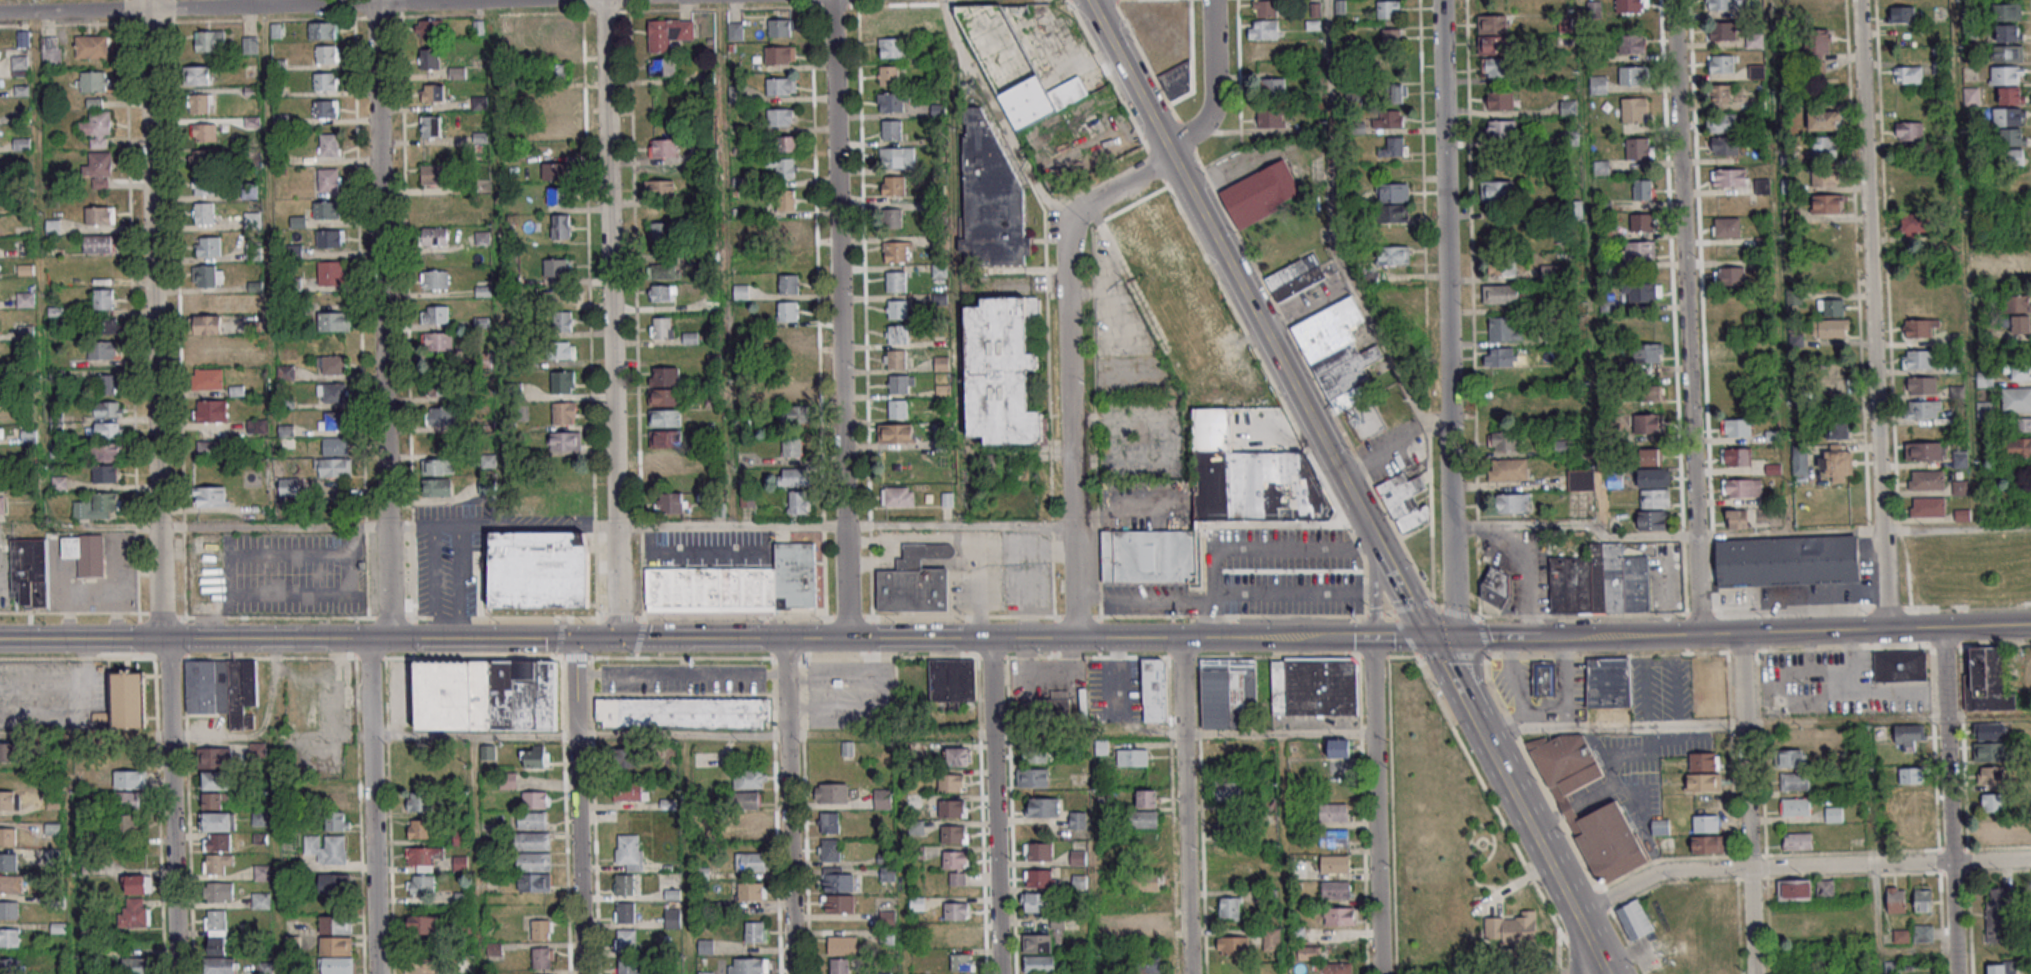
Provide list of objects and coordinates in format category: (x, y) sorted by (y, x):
building: (1782, 2)
building: (1721, 4)
building: (1816, 4)
road: (261, 6)
building: (1632, 6)
building: (1264, 8)
building: (1388, 9)
building: (2006, 11)
building: (1902, 14)
building: (893, 20)
building: (478, 27)
building: (779, 27)
building: (428, 28)
building: (1263, 29)
building: (322, 30)
building: (1722, 30)
building: (2007, 32)
building: (668, 33)
building: (1493, 34)
building: (1391, 37)
building: (210, 40)
building: (1754, 41)
building: (1632, 43)
building: (250, 44)
building: (91, 46)
building: (1816, 46)
building: (556, 47)
building: (892, 47)
building: (1263, 50)
building: (52, 52)
building: (327, 53)
building: (2008, 53)
building: (779, 54)
building: (428, 59)
building: (1721, 64)
building: (19, 65)
building: (1391, 66)
building: (660, 67)
building: (1496, 67)
building: (457, 72)
building: (557, 72)
building: (1757, 72)
building: (1907, 74)
building: (197, 75)
building: (888, 75)
building: (1631, 75)
building: (2007, 75)
building: (92, 81)
building: (325, 81)
building: (1176, 81)
building: (1598, 84)
road: (1213, 85)
building: (781, 86)
building: (1271, 87)
building: (1068, 92)
building: (433, 93)
building: (1396, 93)
building: (1721, 93)
building: (2011, 95)
building: (1971, 96)
building: (554, 100)
building: (1500, 100)
building: (891, 102)
building: (201, 103)
building: (1568, 107)
building: (325, 108)
building: (1634, 109)
building: (780, 117)
building: (2008, 117)
building: (1270, 118)
building: (1387, 119)
building: (250, 121)
building: (1824, 121)
building: (1723, 123)
building: (554, 125)
road: (1003, 125)
building: (431, 126)
building: (97, 128)
building: (891, 129)
building: (1501, 129)
building: (204, 131)
building: (1909, 132)
building: (2013, 137)
building: (786, 143)
building: (329, 145)
building: (1725, 145)
building: (1824, 146)
building: (663, 147)
building: (1394, 147)
building: (1638, 149)
building: (204, 157)
building: (897, 157)
building: (2013, 157)
building: (782, 167)
building: (99, 169)
building: (555, 170)
building: (434, 174)
building: (1730, 177)
building: (1826, 178)
building: (329, 179)
road: (1124, 181)
building: (204, 184)
building: (893, 185)
building: (1763, 186)
building: (659, 188)
building: (1642, 189)
building: (1497, 190)
building: (1260, 194)
building: (557, 196)
building: (991, 199)
building: (785, 200)
building: (1915, 202)
building: (1393, 203)
building: (1827, 203)
building: (431, 206)
building: (327, 210)
building: (204, 213)
building: (100, 215)
building: (892, 218)
building: (1641, 222)
building: (1917, 223)
building: (561, 226)
building: (1726, 227)
building: (785, 230)
building: (662, 231)
road: (1331, 234)
building: (1826, 235)
building: (435, 236)
building: (330, 238)
building: (99, 243)
building: (1393, 245)
building: (208, 246)
building: (1162, 247)
building: (1639, 250)
building: (896, 251)
road: (952, 261)
road: (610, 262)
road: (838, 262)
building: (2016, 263)
building: (1502, 265)
building: (557, 267)
building: (661, 269)
building: (1978, 269)
building: (102, 270)
building: (330, 272)
building: (207, 275)
building: (1729, 276)
road: (1235, 277)
building: (54, 278)
building: (1292, 278)
building: (434, 279)
building: (896, 281)
building: (788, 283)
building: (1644, 291)
building: (662, 292)
building: (1500, 294)
building: (104, 298)
building: (25, 299)
building: (211, 303)
road: (1227, 305)
building: (1831, 307)
road: (406, 308)
road: (817, 308)
road: (178, 309)
building: (896, 310)
building: (1730, 310)
building: (787, 311)
building: (2018, 312)
building: (434, 314)
road: (1871, 314)
road: (1686, 316)
road: (1448, 317)
road: (382, 319)
building: (334, 321)
building: (563, 321)
building: (207, 324)
building: (107, 325)
building: (661, 327)
building: (1919, 327)
building: (1830, 328)
building: (1504, 329)
building: (896, 334)
building: (789, 337)
building: (438, 341)
building: (205, 344)
building: (102, 350)
building: (560, 350)
building: (1336, 351)
building: (1726, 351)
building: (1648, 353)
building: (1499, 357)
building: (895, 359)
building: (1917, 359)
building: (331, 365)
building: (1001, 372)
building: (2019, 372)
road: (132, 375)
building: (663, 376)
building: (207, 378)
building: (563, 382)
building: (1832, 382)
building: (901, 383)
building: (106, 384)
building: (439, 385)
building: (1921, 385)
building: (792, 390)
building: (332, 392)
building: (1652, 392)
building: (665, 397)
building: (1499, 397)
building: (2016, 399)
building: (108, 409)
building: (897, 409)
building: (1923, 409)
building: (211, 410)
building: (564, 413)
building: (794, 414)
building: (439, 415)
building: (664, 418)
building: (332, 421)
road: (1070, 421)
building: (1646, 423)
building: (2021, 424)
building: (257, 426)
building: (1736, 427)
building: (109, 429)
building: (1839, 429)
building: (2, 432)
building: (896, 433)
building: (287, 436)
building: (665, 438)
building: (1505, 440)
building: (565, 441)
building: (335, 446)
building: (2016, 446)
building: (792, 447)
building: (1562, 447)
building: (211, 449)
building: (1928, 451)
building: (107, 452)
building: (1649, 456)
building: (1735, 457)
building: (1959, 459)
building: (665, 460)
building: (1800, 463)
building: (1836, 464)
building: (439, 466)
building: (334, 467)
building: (1507, 470)
building: (104, 475)
building: (794, 476)
building: (1653, 477)
building: (1614, 479)
building: (1581, 480)
building: (1925, 480)
road: (157, 487)
building: (289, 487)
building: (437, 487)
building: (1741, 487)
building: (210, 496)
building: (897, 496)
building: (1655, 498)
building: (1404, 501)
building: (670, 502)
building: (799, 502)
building: (1513, 503)
building: (1217, 505)
building: (3, 506)
building: (97, 507)
building: (1927, 507)
building: (1736, 518)
building: (1652, 520)
road: (844, 524)
road: (273, 525)
road: (1739, 535)
road: (1253, 546)
parking lot: (708, 547)
building: (86, 553)
building: (1787, 561)
building: (538, 570)
building: (30, 571)
parking lot: (276, 573)
road: (846, 581)
building: (915, 581)
building: (1600, 581)
road: (617, 582)
building: (737, 585)
building: (1496, 587)
road: (1405, 594)
road: (1379, 596)
road: (1227, 597)
road: (1410, 606)
road: (1376, 613)
road: (555, 617)
road: (1795, 631)
road: (1507, 634)
traffic signals: (1426, 635)
road: (1440, 635)
road: (1399, 636)
road: (1482, 636)
road: (1351, 637)
traffic signals: (573, 639)
traffic signals: (619, 639)
road: (665, 639)
road: (1759, 652)
road: (1452, 656)
road: (708, 658)
road: (86, 660)
road: (1442, 664)
building: (1899, 665)
road: (803, 675)
building: (1543, 679)
building: (1987, 680)
road: (43, 681)
building: (1608, 681)
building: (951, 682)
building: (1314, 686)
building: (223, 689)
building: (1154, 690)
building: (1228, 693)
building: (485, 695)
building: (127, 698)
road: (86, 699)
road: (878, 706)
building: (1053, 706)
building: (683, 713)
road: (43, 719)
road: (1755, 723)
building: (1990, 730)
road: (185, 735)
road: (1481, 735)
road: (873, 736)
building: (1906, 737)
building: (1340, 747)
building: (1989, 751)
building: (8, 752)
building: (1035, 754)
building: (535, 756)
building: (957, 756)
building: (215, 757)
building: (1131, 757)
building: (626, 758)
building: (1792, 758)
building: (1703, 761)
building: (1910, 775)
building: (1991, 775)
building: (1032, 777)
building: (130, 779)
building: (749, 779)
building: (215, 780)
building: (510, 780)
building: (1794, 781)
building: (951, 782)
building: (1702, 782)
building: (1227, 790)
building: (628, 791)
building: (831, 792)
building: (1910, 795)
building: (1147, 798)
building: (335, 799)
building: (535, 799)
building: (882, 799)
building: (9, 800)
building: (128, 800)
building: (215, 800)
building: (745, 800)
road: (1948, 801)
building: (419, 802)
building: (1993, 802)
road: (1746, 803)
road: (994, 805)
road: (1185, 805)
road: (1375, 805)
road: (373, 806)
road: (577, 806)
road: (788, 806)
building: (1796, 806)
building: (1042, 807)
building: (952, 808)
building: (1610, 809)
building: (1333, 812)
building: (1833, 814)
road: (1560, 816)
building: (1143, 819)
building: (337, 820)
building: (532, 820)
building: (752, 820)
building: (1077, 820)
building: (219, 821)
building: (829, 822)
building: (1706, 823)
building: (128, 825)
building: (1660, 827)
building: (419, 828)
building: (1994, 830)
building: (952, 834)
building: (1232, 835)
building: (7, 836)
building: (1912, 837)
building: (1334, 838)
building: (532, 840)
building: (217, 841)
building: (1797, 841)
building: (1707, 844)
building: (326, 848)
building: (830, 850)
building: (629, 851)
building: (1037, 851)
road: (475, 855)
road: (686, 855)
building: (423, 857)
building: (1077, 857)
building: (8, 862)
building: (533, 862)
building: (752, 862)
building: (216, 863)
building: (460, 863)
building: (1335, 864)
building: (956, 866)
road: (1799, 867)
building: (1301, 870)
building: (260, 872)
building: (887, 874)
road: (1557, 874)
building: (1039, 878)
building: (838, 879)
building: (1078, 881)
building: (1146, 881)
building: (334, 882)
building: (533, 882)
building: (13, 883)
building: (136, 884)
building: (420, 884)
building: (624, 884)
building: (1825, 888)
building: (1335, 889)
building: (1794, 889)
building: (220, 891)
building: (750, 891)
building: (1896, 899)
building: (1923, 899)
building: (261, 900)
building: (1036, 902)
building: (1148, 902)
building: (839, 904)
building: (1229, 908)
building: (9, 909)
building: (956, 910)
building: (624, 912)
building: (134, 913)
building: (1998, 914)
building: (1340, 916)
building: (672, 918)
building: (887, 918)
building: (1634, 920)
building: (1057, 922)
building: (1150, 922)
building: (335, 924)
building: (423, 924)
building: (1510, 928)
building: (541, 929)
building: (215, 932)
building: (754, 932)
building: (1922, 933)
building: (1804, 934)
building: (960, 936)
building: (10, 937)
building: (625, 938)
building: (1271, 939)
building: (1037, 942)
road: (1579, 944)
building: (842, 945)
building: (1233, 945)
building: (336, 946)
road: (1877, 946)
building: (705, 947)
building: (1309, 952)
building: (543, 957)
building: (962, 962)
building: (420, 964)
building: (1039, 964)
building: (1147, 964)
building: (10, 965)
building: (135, 965)
building: (221, 965)
building: (337, 965)
building: (748, 965)
building: (839, 966)
building: (2002, 967)
building: (1337, 968)
building: (625, 971)

